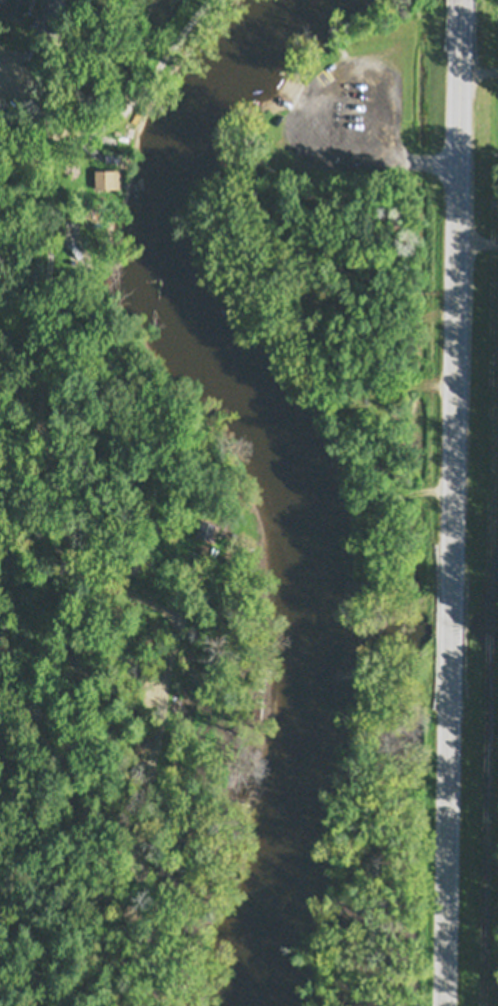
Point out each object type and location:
building: (14, 8)
building: (36, 26)
building: (7, 50)
road: (476, 64)
road: (132, 84)
road: (46, 103)
road: (306, 108)
building: (105, 178)
road: (479, 204)
building: (76, 256)
building: (255, 292)
river: (290, 459)
road: (456, 502)
building: (206, 528)
road: (78, 560)
building: (362, 586)
building: (261, 801)
building: (249, 845)

